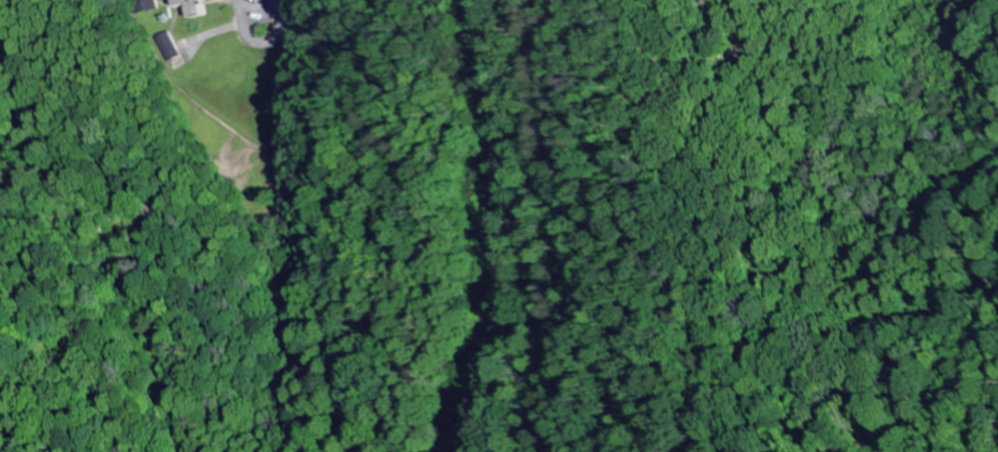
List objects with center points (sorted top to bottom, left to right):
building: (154, 6)
building: (200, 8)

